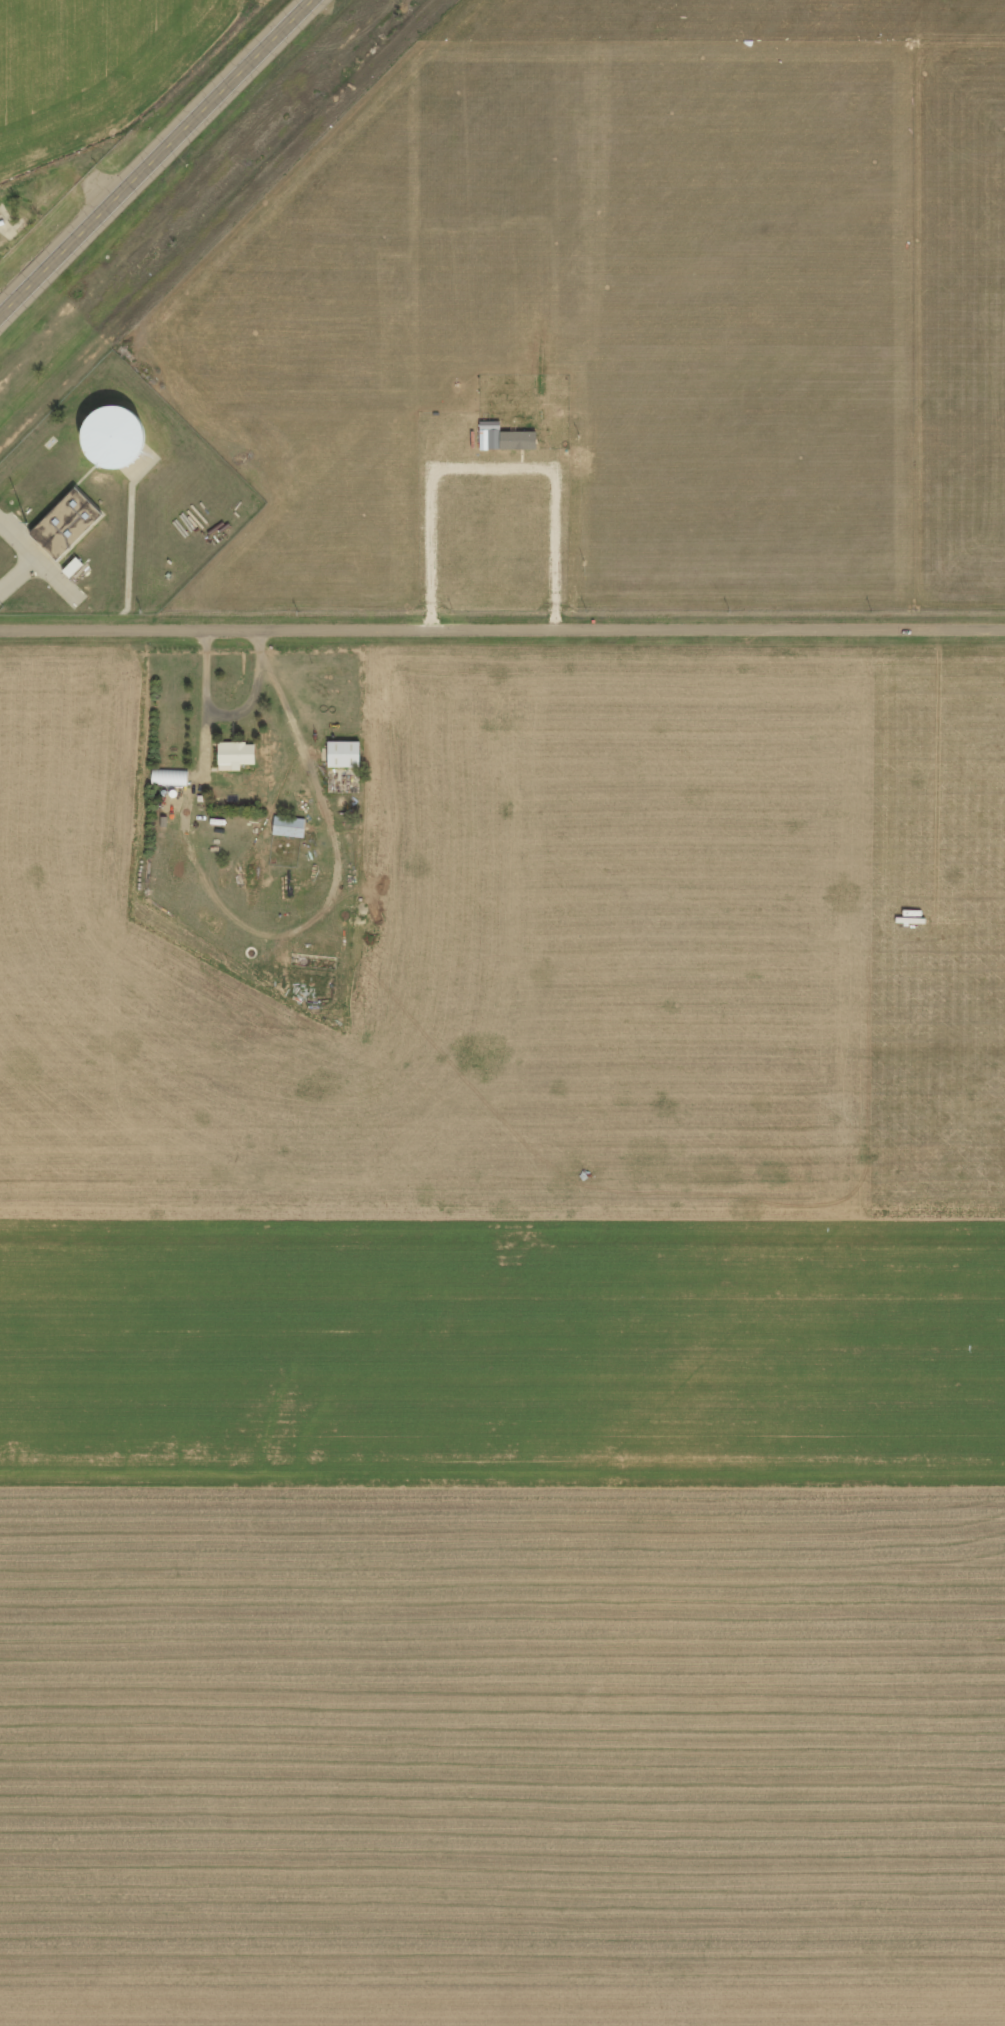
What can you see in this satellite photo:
road: (261, 27)
road: (157, 159)
building: (0, 207)
building: (517, 439)
building: (70, 566)
road: (502, 626)
building: (340, 753)
building: (233, 754)
building: (168, 776)
building: (288, 825)

